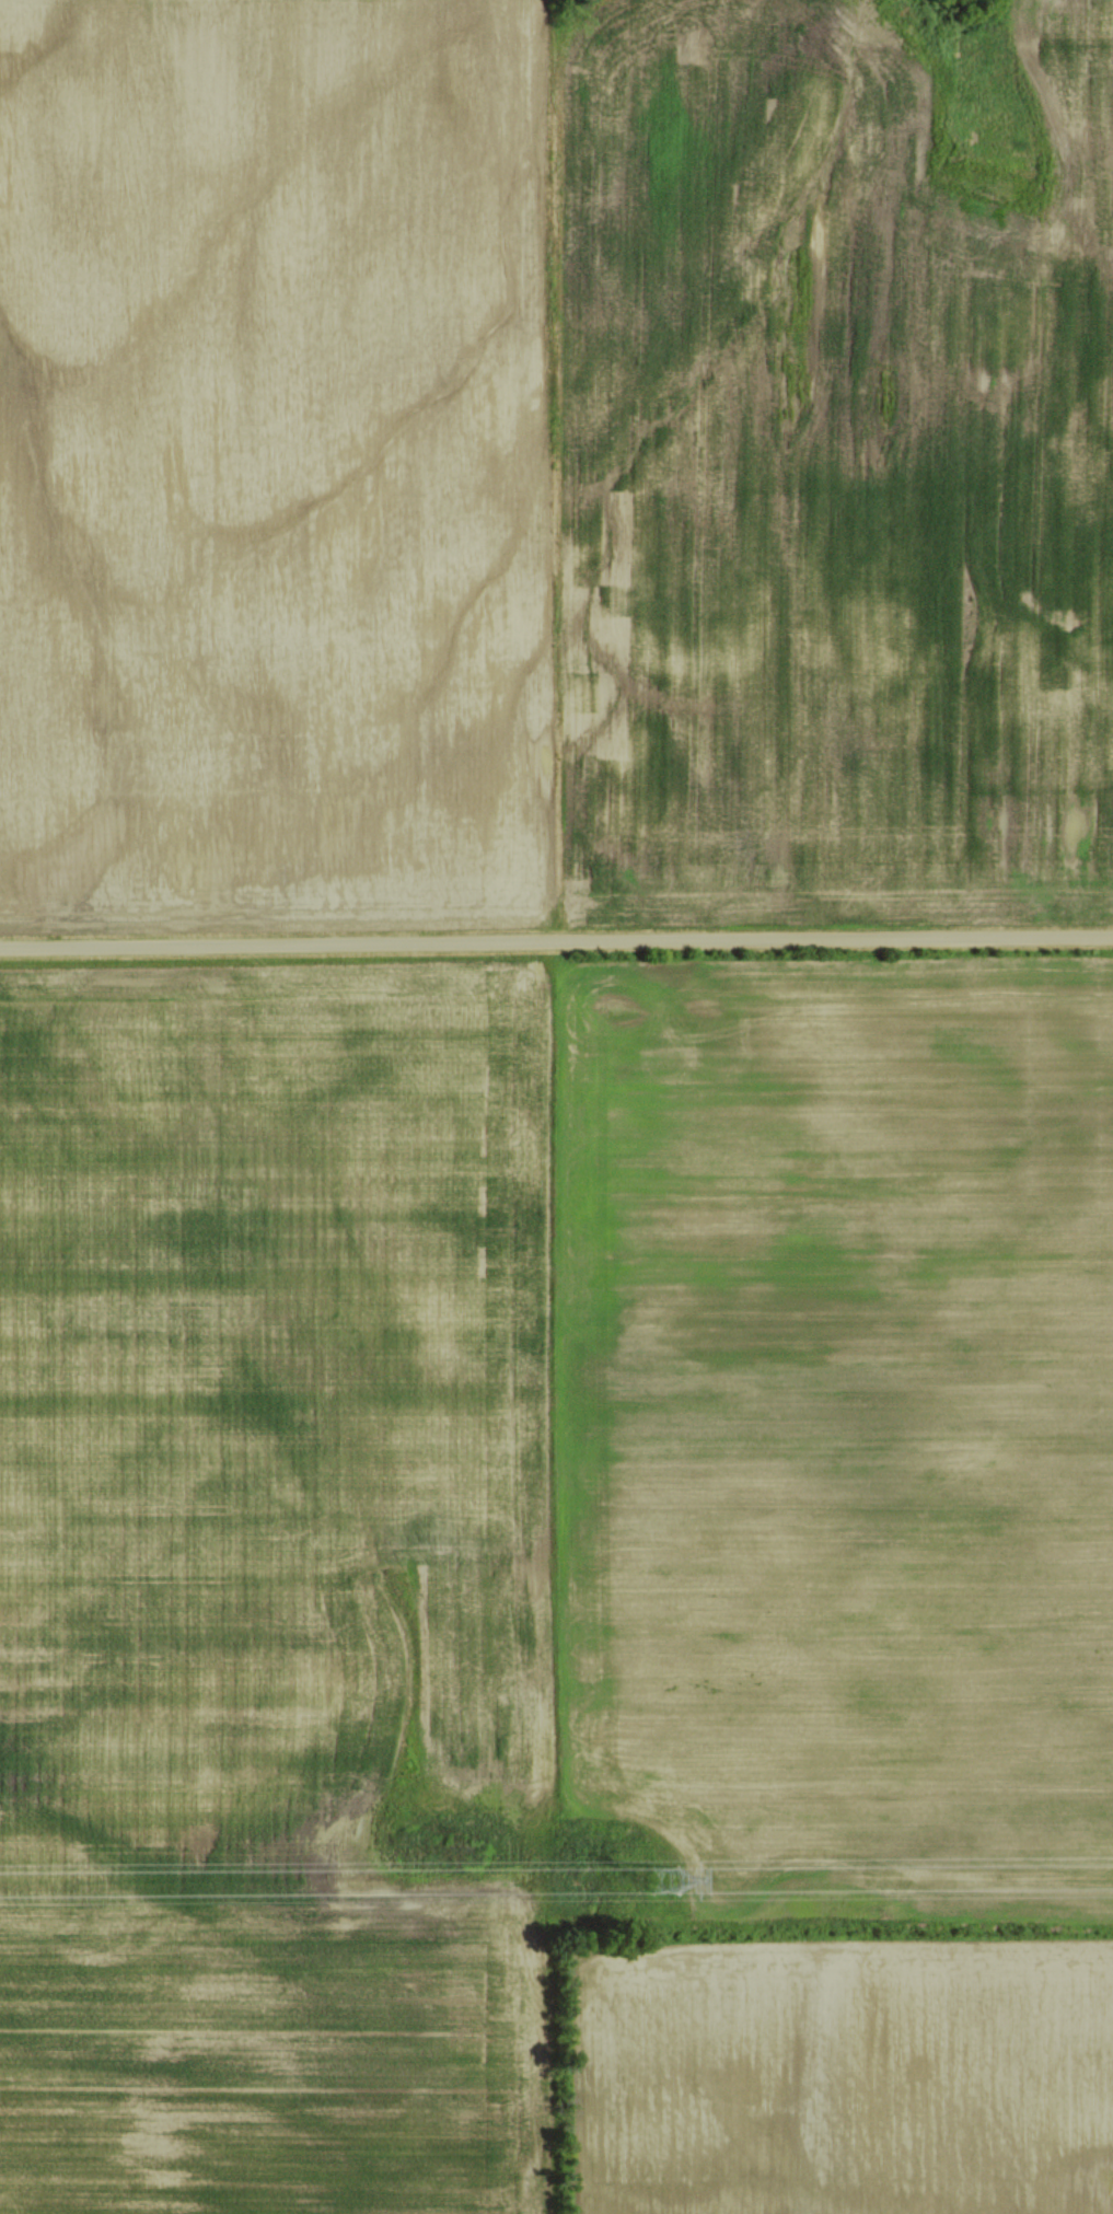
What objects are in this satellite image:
road: (556, 941)
power tower: (664, 1880)

